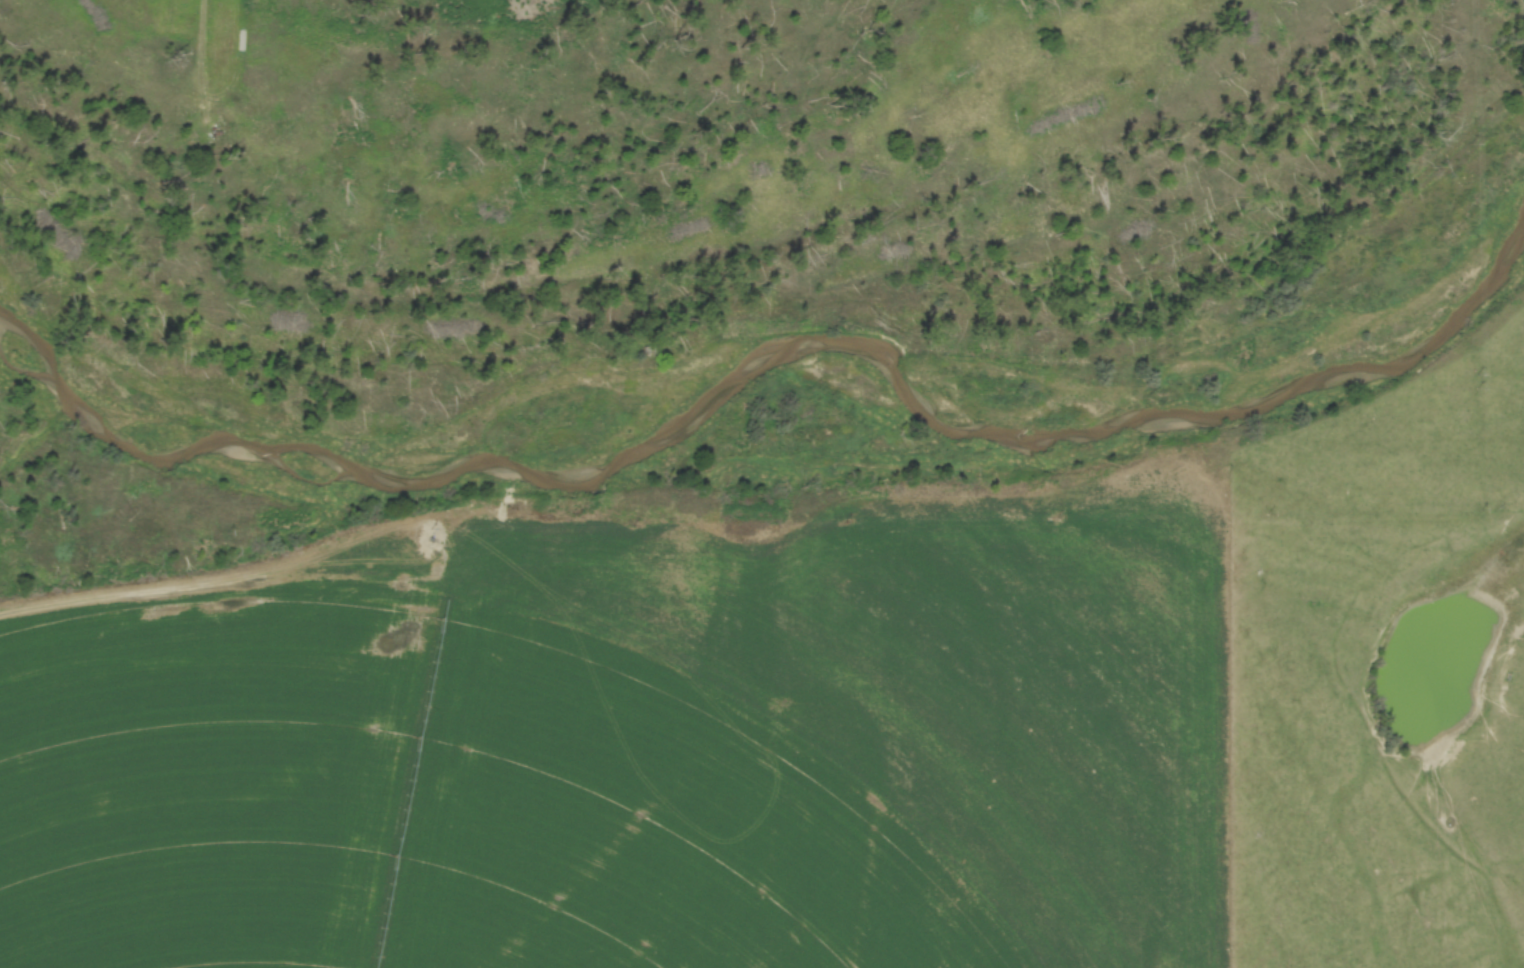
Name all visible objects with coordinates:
river: (768, 354)

